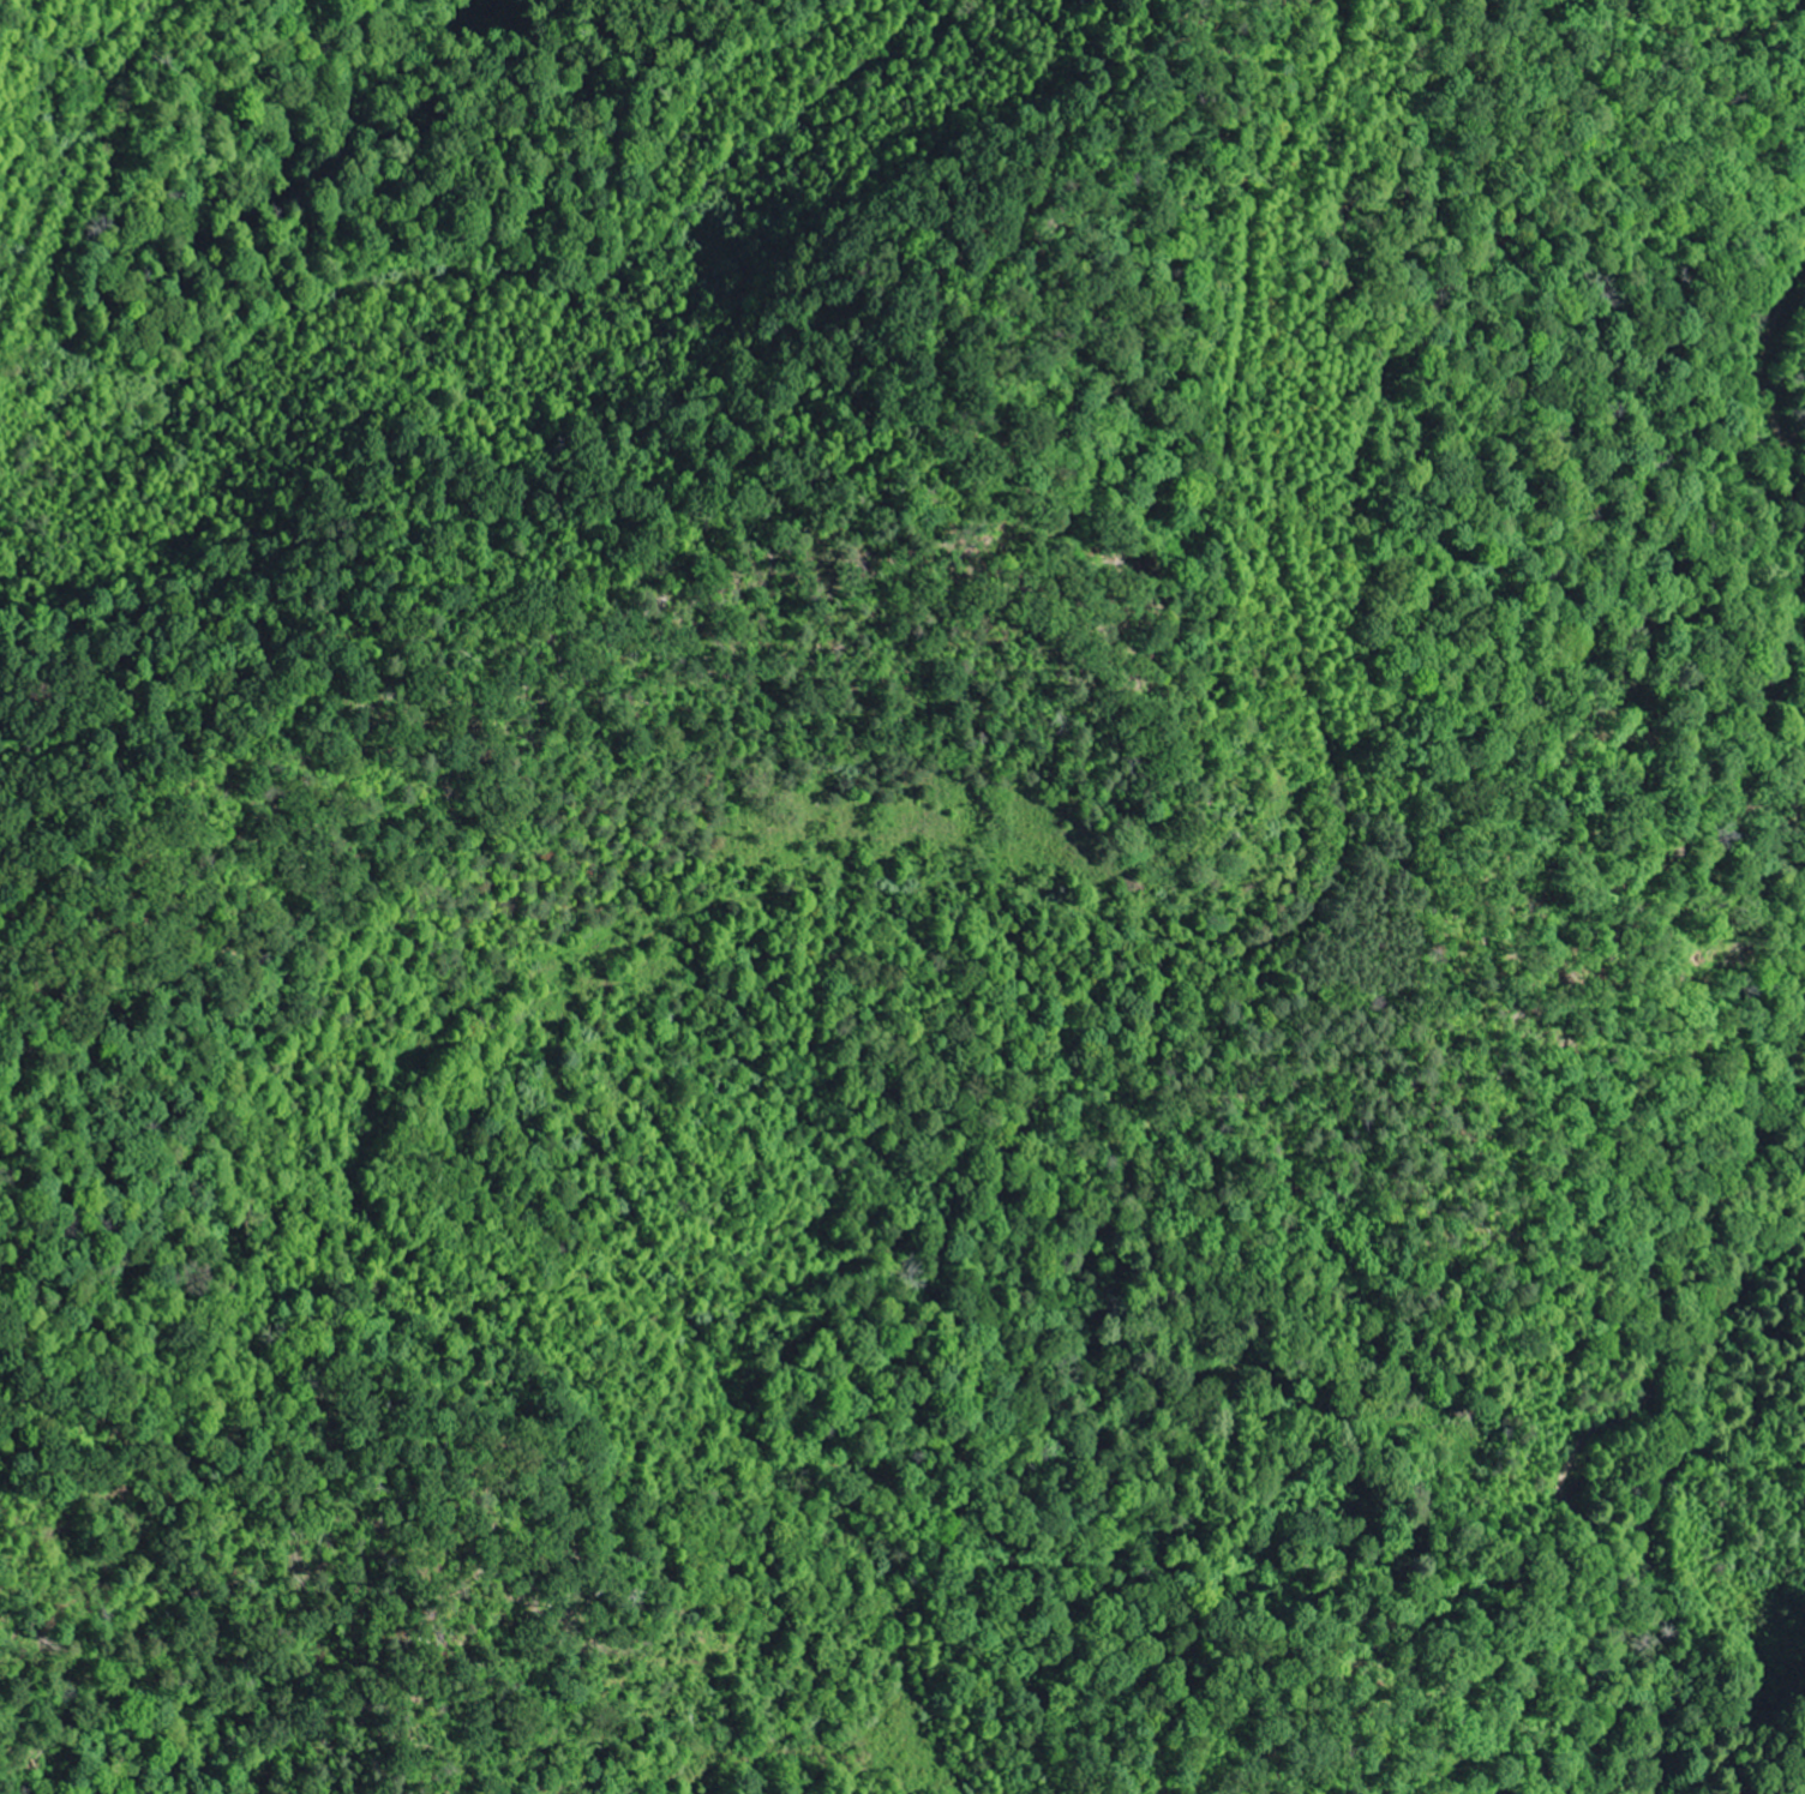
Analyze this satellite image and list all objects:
road: (1657, 1513)

